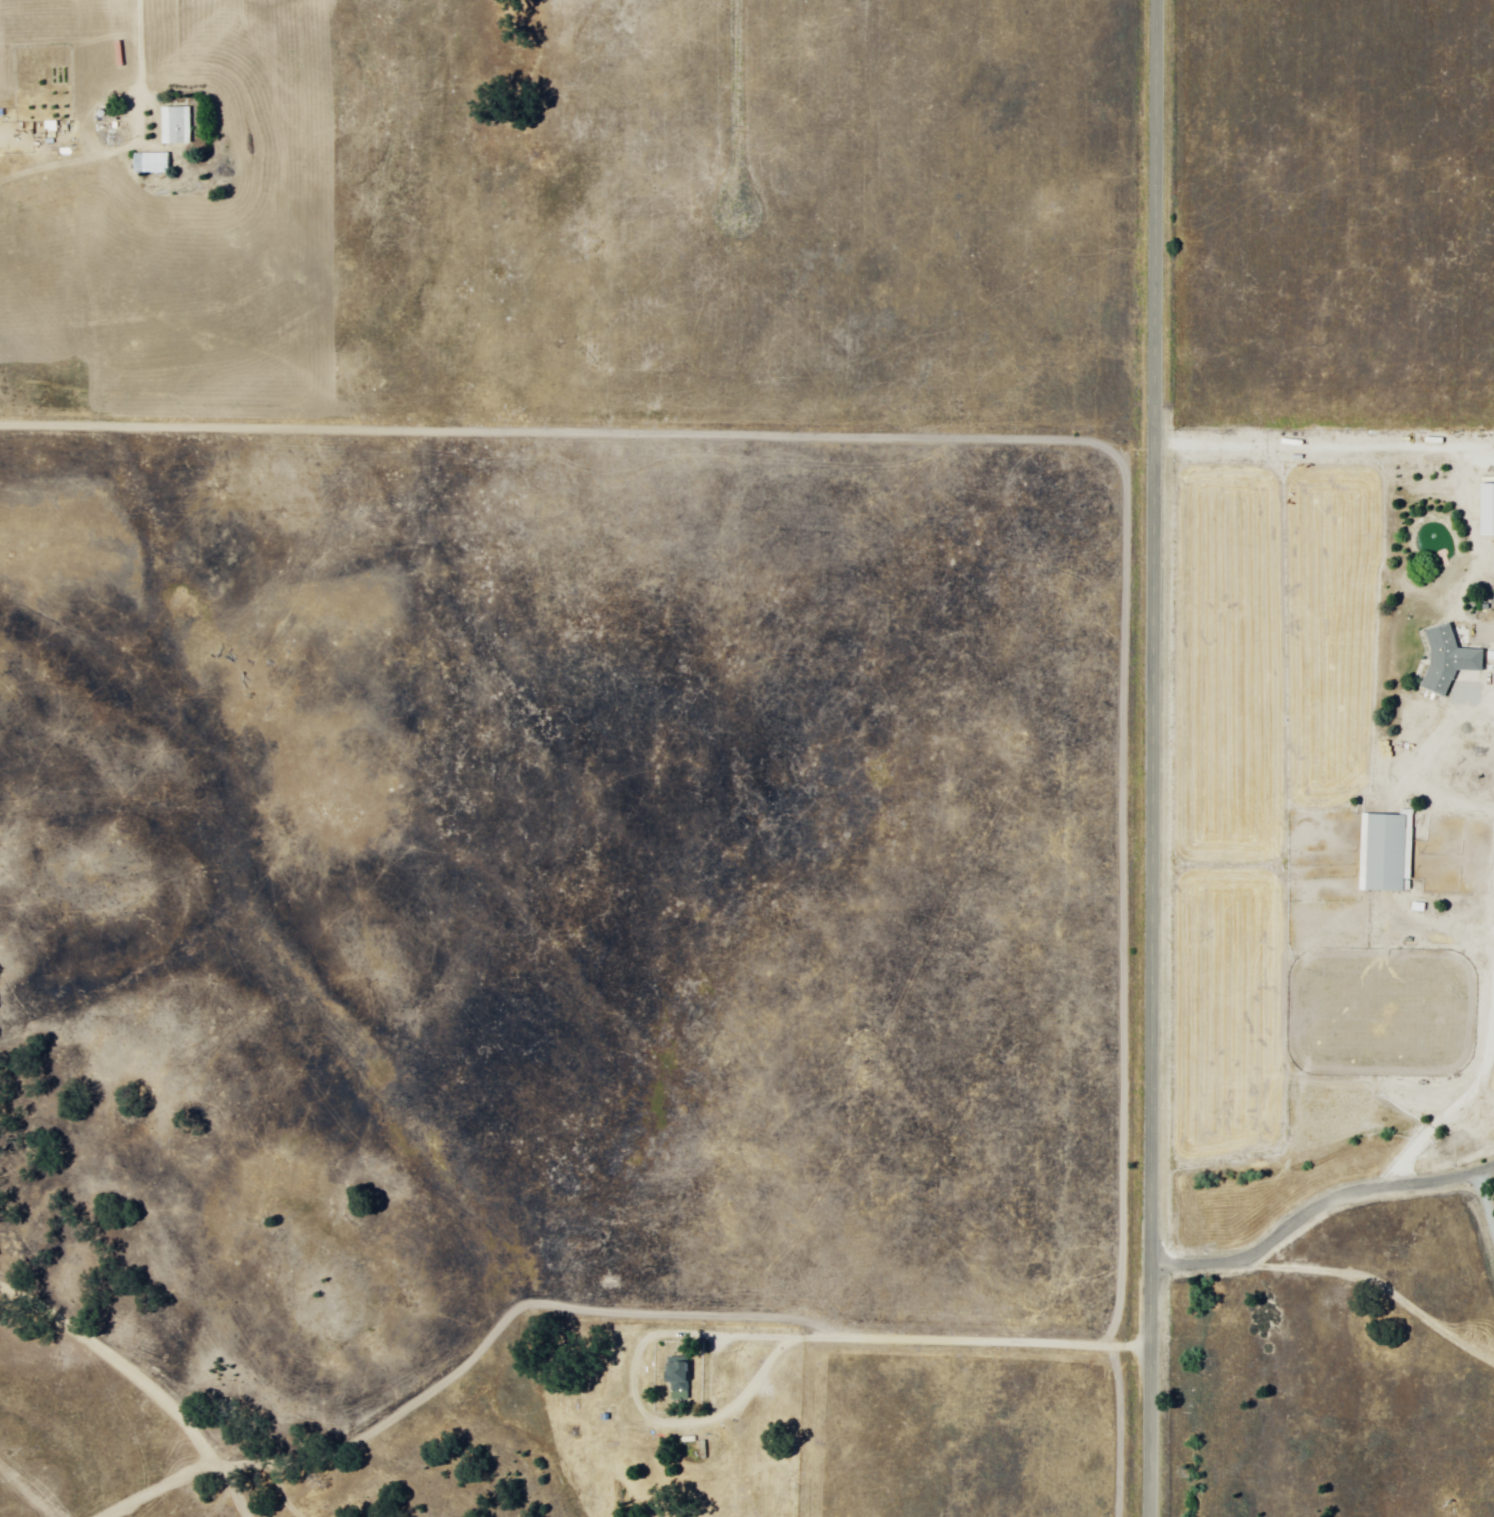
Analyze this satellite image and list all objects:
road: (734, 110)
building: (171, 126)
building: (146, 165)
road: (1363, 426)
building: (1445, 660)
road: (1152, 758)
building: (1382, 852)
road: (1320, 1214)
road: (605, 1335)
building: (673, 1378)
road: (160, 1379)

